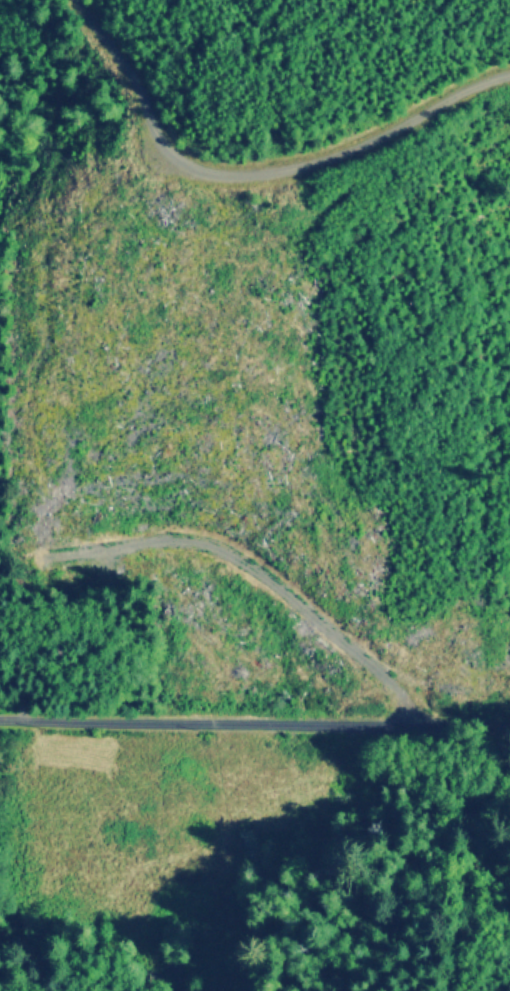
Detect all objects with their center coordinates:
road: (263, 178)
road: (255, 722)

